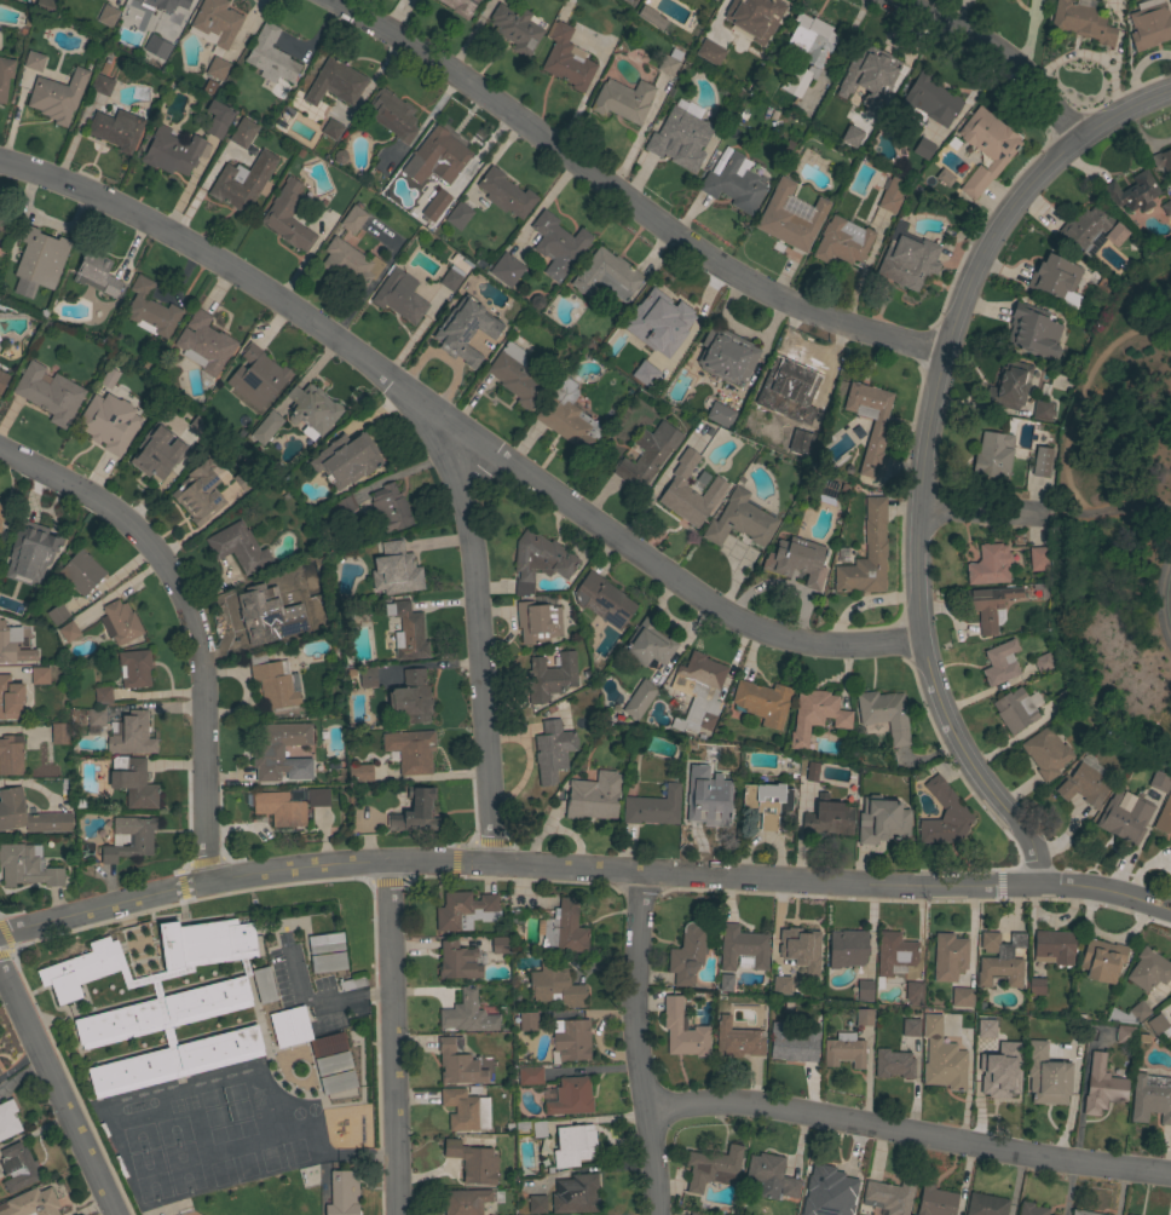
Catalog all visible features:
building: (108, 0)
building: (503, 0)
building: (711, 0)
building: (165, 4)
building: (460, 6)
building: (106, 16)
building: (653, 18)
building: (754, 18)
building: (1081, 21)
building: (214, 23)
building: (1149, 25)
building: (515, 29)
building: (157, 47)
building: (807, 51)
building: (709, 52)
building: (270, 56)
road: (991, 56)
building: (566, 58)
building: (34, 61)
building: (669, 63)
building: (217, 68)
building: (867, 75)
building: (5, 76)
building: (335, 82)
building: (100, 85)
building: (57, 96)
building: (623, 99)
building: (930, 99)
building: (685, 109)
building: (392, 115)
building: (284, 117)
building: (218, 119)
building: (116, 129)
building: (331, 129)
building: (242, 133)
building: (850, 136)
building: (680, 138)
building: (986, 148)
building: (921, 150)
building: (172, 151)
building: (435, 157)
building: (1163, 160)
building: (242, 182)
building: (734, 185)
road: (1021, 189)
building: (1132, 192)
building: (504, 194)
building: (892, 195)
building: (1170, 195)
road: (622, 197)
building: (435, 206)
building: (1165, 207)
building: (458, 215)
building: (287, 217)
building: (790, 217)
building: (353, 218)
building: (5, 223)
building: (1092, 230)
building: (842, 241)
building: (556, 244)
building: (907, 258)
building: (38, 260)
building: (350, 265)
building: (506, 270)
building: (97, 273)
building: (606, 273)
building: (1054, 277)
building: (451, 278)
building: (399, 296)
building: (150, 310)
building: (659, 315)
building: (465, 330)
building: (1033, 330)
building: (204, 346)
building: (726, 356)
building: (517, 375)
building: (256, 378)
building: (105, 379)
building: (2, 380)
building: (1009, 386)
building: (48, 393)
building: (791, 395)
building: (312, 410)
building: (1042, 410)
building: (720, 415)
building: (567, 416)
building: (108, 422)
road: (455, 426)
building: (266, 427)
building: (876, 428)
building: (154, 455)
building: (647, 455)
building: (993, 455)
building: (345, 460)
building: (1042, 462)
building: (243, 479)
building: (690, 491)
building: (197, 493)
building: (346, 505)
park: (1119, 506)
building: (390, 508)
building: (1, 512)
road: (980, 513)
building: (740, 520)
building: (34, 545)
building: (238, 547)
building: (866, 553)
building: (1038, 558)
building: (540, 560)
building: (796, 560)
building: (990, 565)
building: (397, 570)
building: (80, 572)
building: (6, 594)
road: (1165, 595)
building: (602, 599)
building: (990, 606)
building: (57, 614)
building: (266, 614)
road: (195, 617)
building: (120, 622)
building: (537, 622)
building: (68, 632)
building: (408, 632)
road: (481, 632)
road: (919, 635)
building: (8, 643)
building: (648, 644)
building: (1000, 662)
building: (1043, 662)
building: (134, 668)
building: (39, 675)
building: (367, 676)
building: (550, 676)
building: (275, 683)
building: (698, 692)
building: (102, 695)
building: (411, 697)
building: (10, 698)
building: (639, 698)
building: (1062, 698)
building: (762, 702)
building: (1014, 709)
building: (884, 714)
building: (815, 715)
building: (97, 719)
building: (58, 733)
building: (131, 735)
building: (277, 748)
building: (410, 750)
building: (552, 750)
building: (1045, 753)
building: (11, 755)
building: (692, 765)
building: (317, 766)
building: (809, 772)
building: (359, 773)
building: (1133, 781)
building: (133, 782)
building: (1083, 782)
building: (1156, 783)
building: (593, 799)
building: (767, 802)
building: (289, 805)
building: (653, 807)
building: (710, 810)
building: (415, 812)
building: (28, 814)
building: (944, 816)
building: (827, 817)
building: (1164, 817)
building: (882, 820)
building: (1127, 824)
building: (129, 839)
building: (1170, 856)
building: (25, 866)
road: (582, 870)
building: (466, 910)
building: (563, 928)
building: (325, 943)
building: (498, 945)
building: (742, 948)
building: (1054, 948)
building: (847, 949)
building: (798, 951)
building: (686, 955)
building: (894, 955)
building: (948, 957)
building: (1000, 960)
building: (1102, 960)
building: (457, 961)
building: (328, 962)
building: (81, 969)
building: (1149, 969)
building: (143, 981)
building: (722, 984)
building: (264, 985)
building: (555, 985)
building: (778, 986)
building: (1036, 986)
building: (864, 990)
building: (213, 992)
building: (913, 994)
building: (962, 997)
road: (323, 1004)
building: (467, 1014)
building: (1127, 1014)
building: (864, 1018)
building: (527, 1021)
building: (1158, 1025)
building: (910, 1027)
building: (982, 1029)
building: (682, 1030)
building: (302, 1032)
building: (1124, 1033)
road: (393, 1038)
building: (571, 1040)
building: (737, 1040)
building: (792, 1043)
road: (639, 1044)
building: (843, 1052)
building: (941, 1058)
road: (18, 1061)
building: (174, 1061)
building: (458, 1063)
building: (333, 1064)
building: (893, 1064)
building: (0, 1072)
building: (530, 1076)
building: (1046, 1076)
building: (993, 1078)
building: (338, 1082)
building: (1102, 1087)
road: (57, 1092)
building: (571, 1096)
building: (1150, 1098)
building: (465, 1110)
building: (7, 1119)
building: (538, 1129)
road: (908, 1130)
building: (146, 1135)
building: (573, 1145)
building: (276, 1156)
building: (473, 1162)
building: (18, 1167)
building: (713, 1168)
building: (772, 1176)
building: (830, 1179)
building: (183, 1181)
building: (287, 1193)
building: (342, 1193)
building: (576, 1196)
building: (888, 1196)
building: (466, 1202)
building: (935, 1202)
building: (31, 1203)
building: (536, 1204)
building: (986, 1204)
building: (1031, 1209)
building: (1084, 1213)
building: (690, 1214)
building: (694, 1214)

